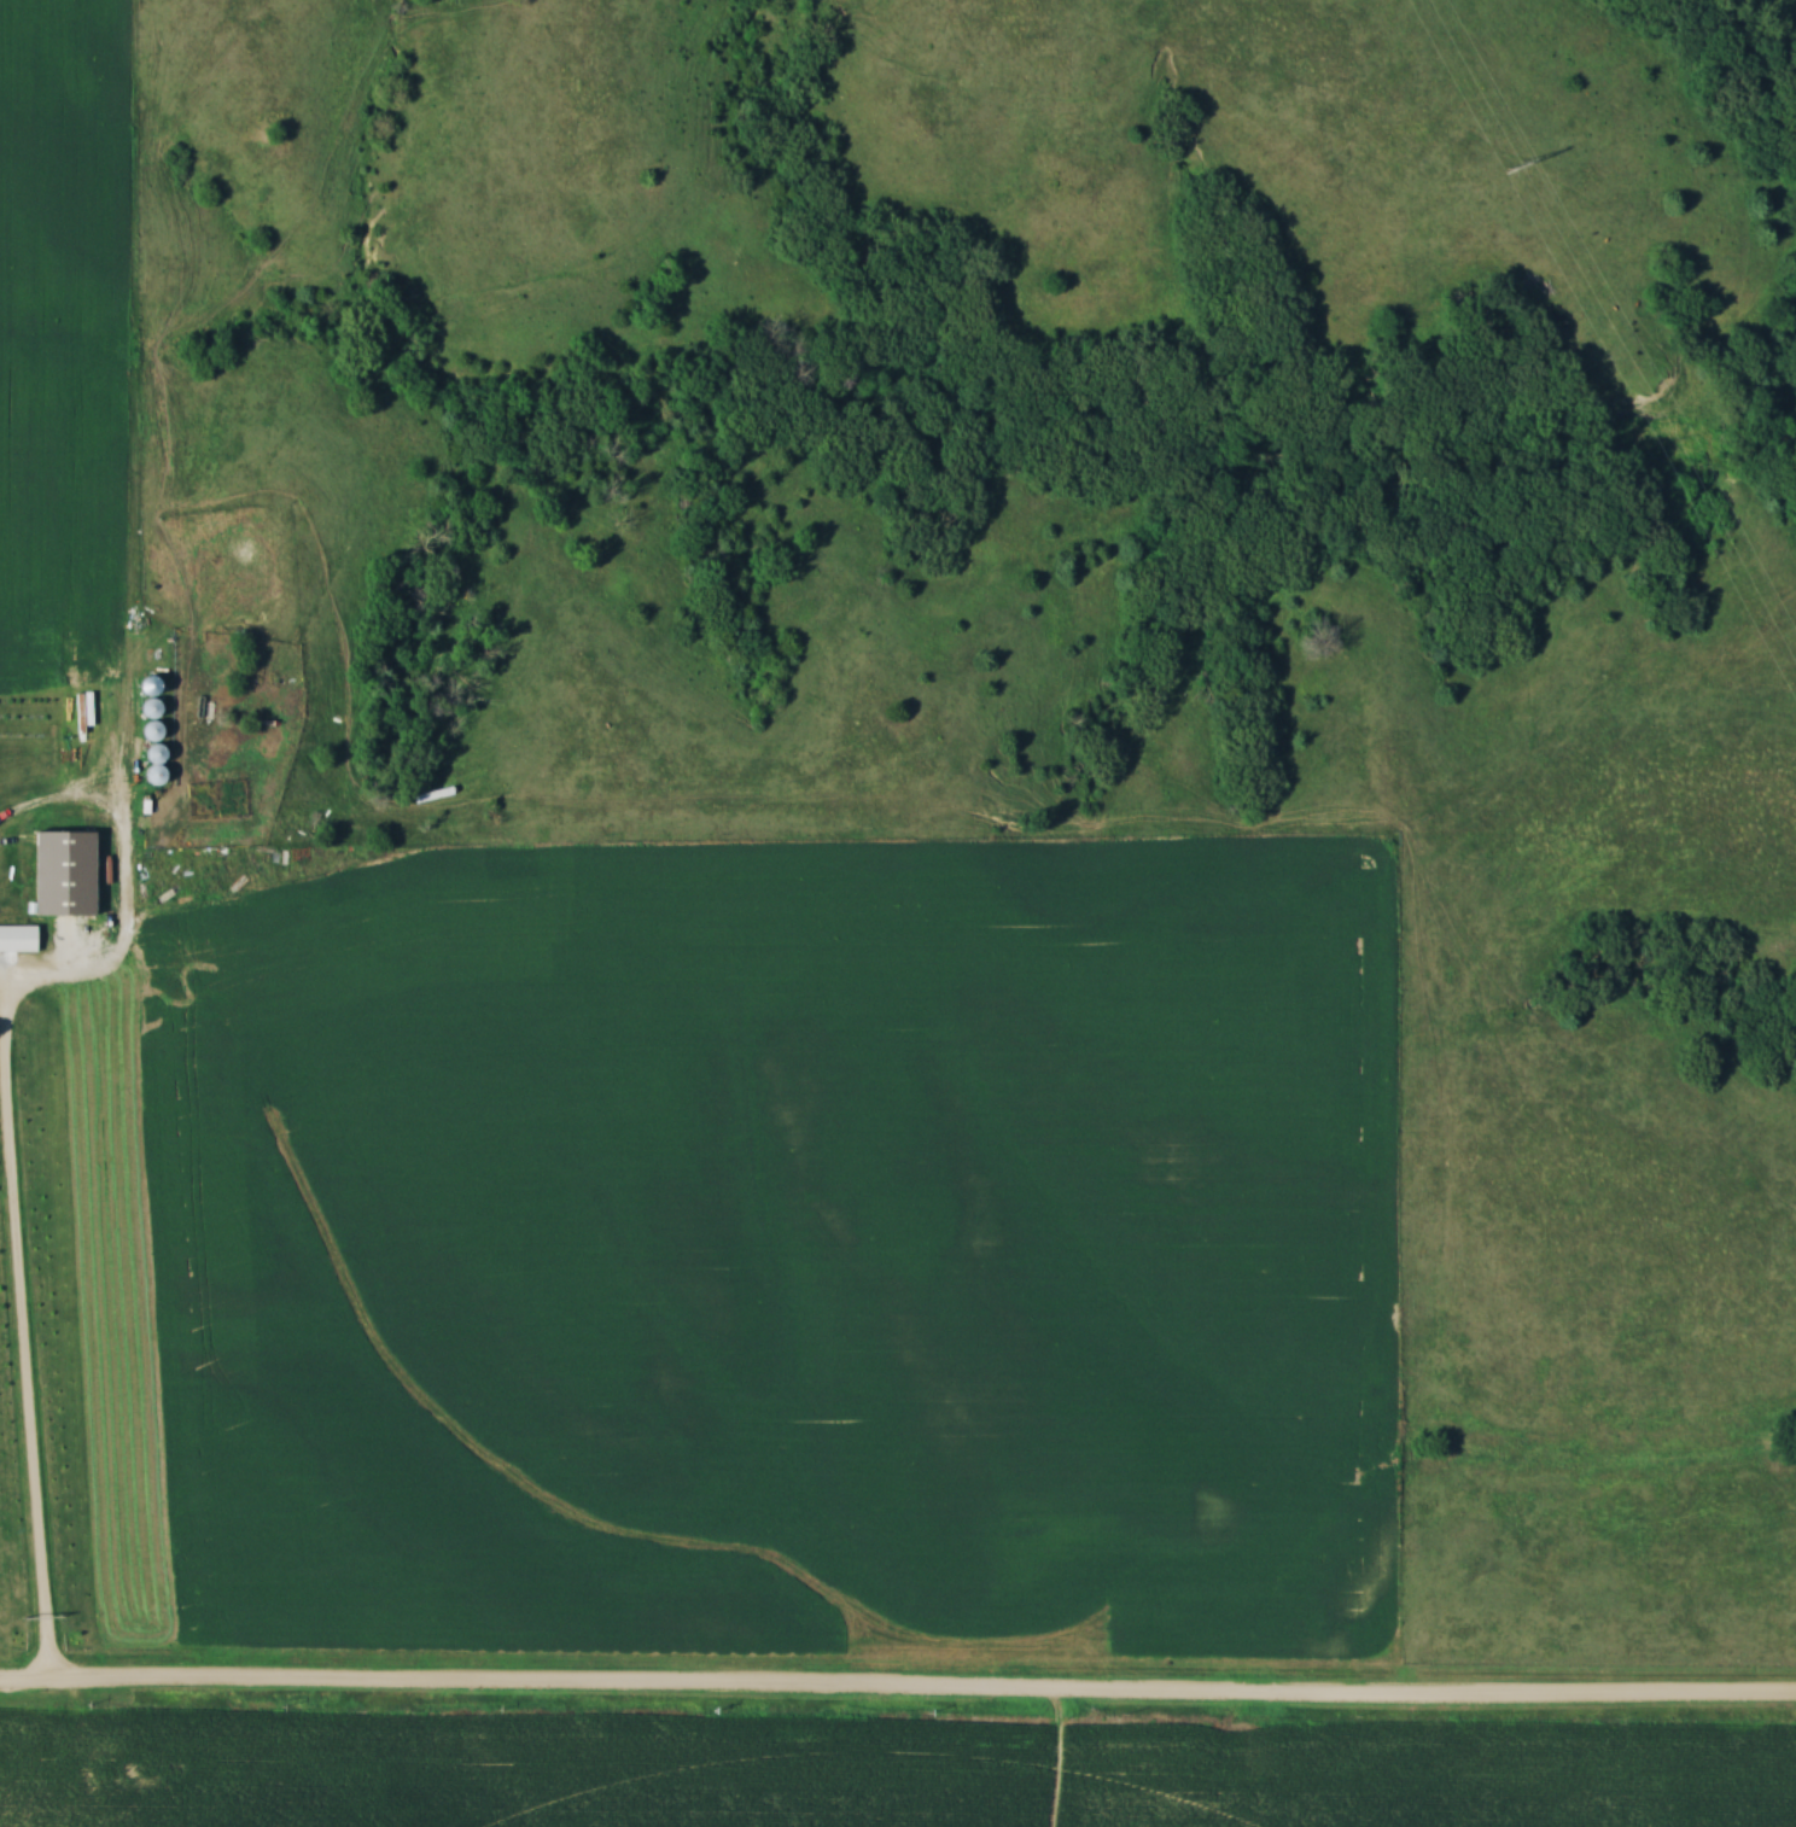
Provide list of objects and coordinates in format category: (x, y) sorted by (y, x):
power tower: (1511, 164)
river: (1794, 367)
building: (151, 684)
building: (25, 936)
road: (24, 1360)
road: (897, 1693)

